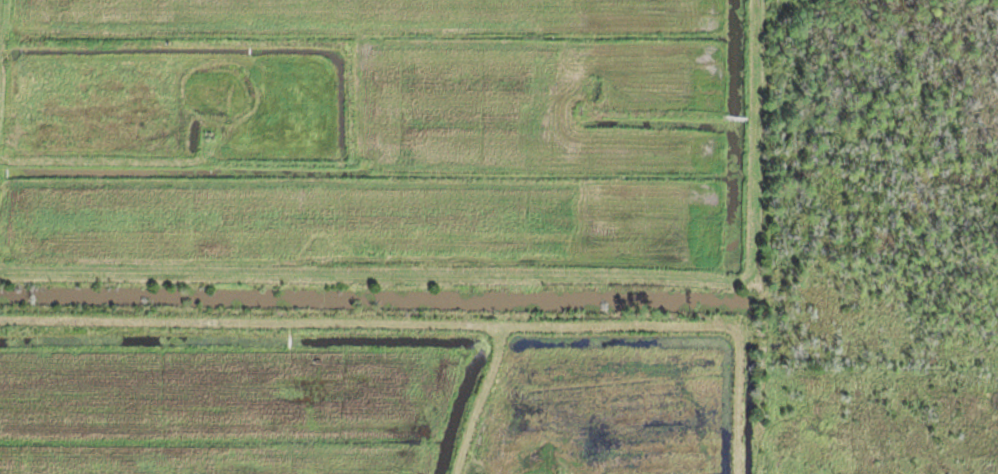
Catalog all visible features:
road: (739, 465)

